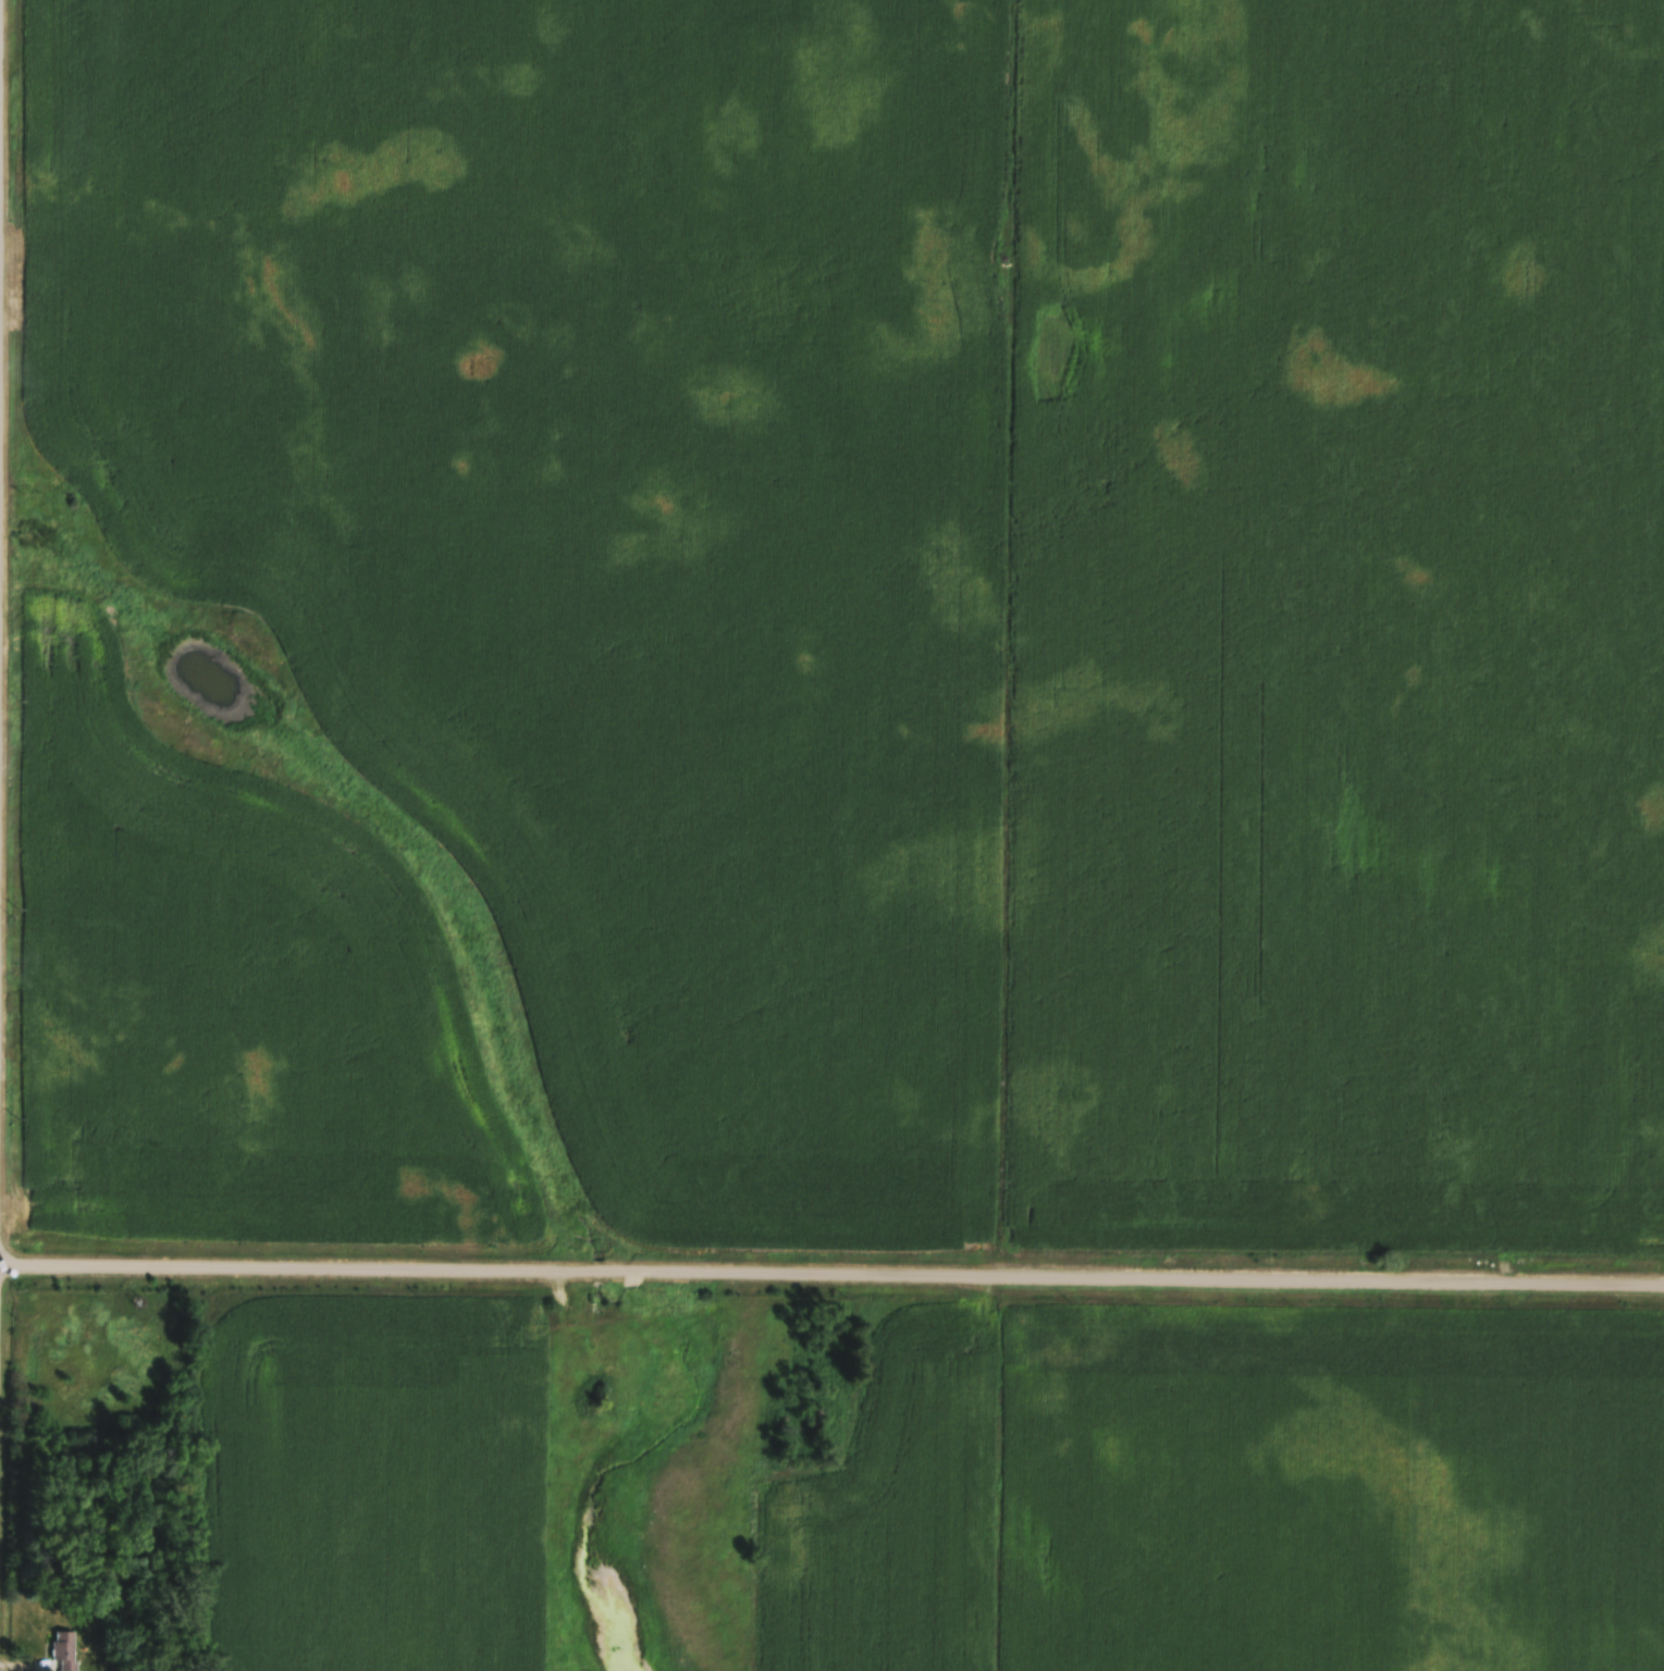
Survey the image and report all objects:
road: (831, 1276)
building: (62, 1647)

